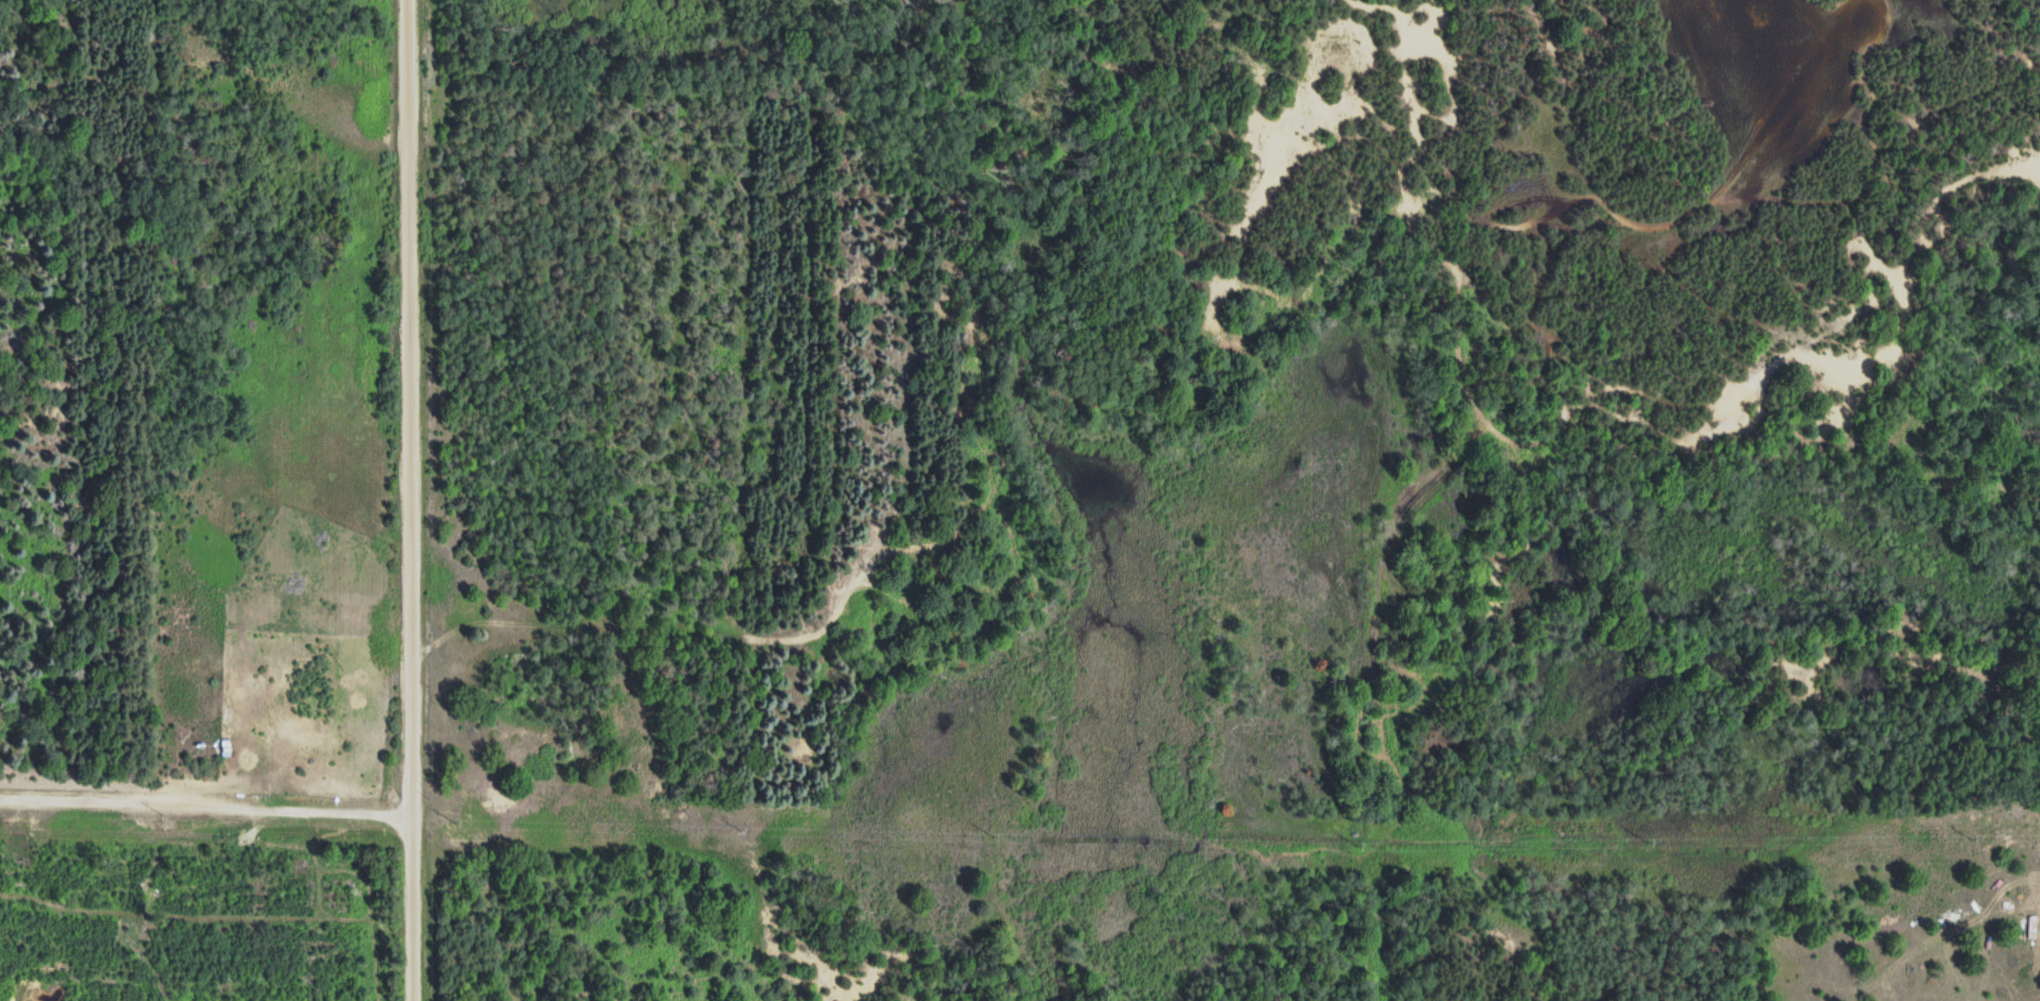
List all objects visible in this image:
road: (395, 500)
road: (197, 758)

